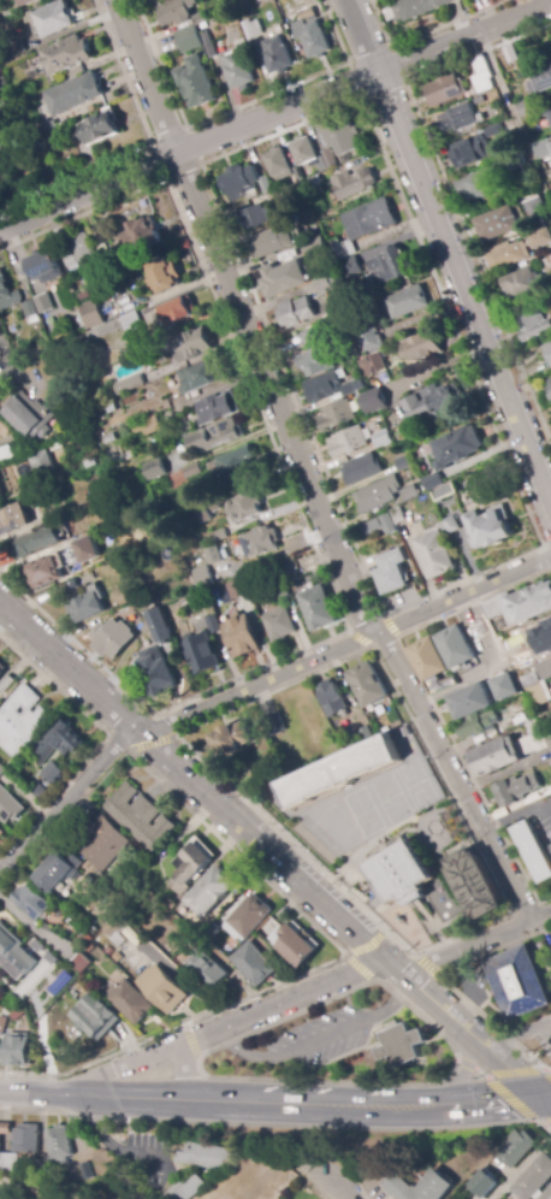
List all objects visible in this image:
building: (150, 0)
building: (155, 0)
building: (263, 0)
building: (20, 1)
building: (416, 7)
building: (174, 12)
building: (52, 19)
building: (253, 29)
building: (310, 33)
building: (190, 34)
road: (361, 36)
road: (463, 39)
building: (211, 45)
building: (17, 48)
building: (65, 54)
building: (510, 54)
building: (275, 55)
building: (237, 67)
building: (481, 75)
building: (540, 81)
building: (195, 83)
building: (444, 90)
building: (71, 91)
road: (361, 100)
building: (479, 102)
building: (526, 107)
building: (550, 116)
building: (458, 119)
road: (515, 122)
building: (48, 126)
building: (99, 128)
building: (493, 131)
building: (342, 138)
building: (37, 141)
road: (143, 143)
road: (186, 147)
building: (541, 149)
building: (303, 152)
building: (467, 153)
building: (328, 159)
building: (514, 161)
building: (277, 163)
building: (320, 165)
building: (296, 175)
building: (242, 183)
building: (352, 184)
building: (480, 184)
road: (13, 188)
building: (302, 190)
road: (448, 190)
building: (533, 208)
building: (306, 213)
building: (251, 218)
building: (497, 224)
building: (363, 225)
building: (138, 235)
building: (539, 238)
building: (269, 242)
building: (319, 246)
building: (78, 250)
building: (505, 258)
building: (546, 264)
building: (349, 266)
building: (387, 266)
building: (45, 267)
building: (284, 278)
building: (168, 280)
building: (325, 285)
building: (520, 285)
road: (463, 287)
building: (7, 295)
building: (407, 302)
building: (43, 303)
building: (29, 309)
building: (177, 312)
building: (97, 313)
building: (295, 313)
building: (324, 317)
building: (131, 321)
building: (534, 326)
building: (369, 339)
building: (189, 345)
building: (422, 347)
building: (60, 348)
building: (549, 349)
building: (147, 354)
building: (316, 354)
road: (6, 360)
building: (373, 365)
building: (199, 376)
building: (550, 382)
building: (128, 385)
building: (324, 386)
building: (350, 386)
building: (549, 390)
building: (0, 396)
building: (374, 402)
building: (434, 402)
building: (108, 406)
building: (217, 407)
building: (26, 417)
building: (336, 417)
building: (146, 426)
building: (214, 436)
building: (384, 437)
building: (108, 439)
building: (348, 442)
building: (454, 453)
building: (6, 454)
building: (403, 462)
building: (38, 463)
building: (232, 467)
building: (153, 469)
road: (303, 469)
building: (362, 469)
building: (184, 476)
building: (442, 491)
building: (409, 492)
building: (378, 494)
building: (243, 507)
building: (206, 513)
building: (397, 515)
building: (13, 519)
road: (302, 519)
building: (387, 524)
building: (372, 526)
building: (490, 527)
building: (71, 531)
building: (217, 536)
building: (257, 541)
building: (38, 545)
road: (547, 545)
building: (437, 549)
building: (211, 553)
building: (61, 562)
building: (292, 572)
building: (392, 572)
building: (201, 574)
building: (237, 589)
building: (279, 590)
building: (521, 604)
building: (316, 606)
building: (87, 608)
building: (212, 622)
building: (158, 624)
building: (278, 624)
road: (390, 627)
building: (476, 628)
building: (239, 634)
building: (109, 637)
road: (360, 640)
building: (535, 640)
building: (456, 648)
building: (202, 651)
building: (428, 660)
building: (156, 669)
building: (545, 669)
building: (1, 672)
building: (470, 675)
building: (367, 683)
building: (7, 686)
road: (254, 686)
building: (504, 687)
building: (533, 690)
building: (351, 691)
building: (331, 696)
building: (470, 701)
road: (431, 702)
building: (519, 714)
building: (20, 720)
building: (274, 725)
building: (478, 725)
road: (101, 739)
building: (231, 739)
building: (547, 739)
building: (531, 740)
road: (150, 742)
building: (58, 743)
building: (493, 757)
building: (1, 770)
building: (340, 772)
building: (53, 773)
building: (550, 780)
building: (514, 790)
building: (37, 792)
building: (8, 807)
building: (140, 817)
building: (1, 833)
building: (102, 841)
building: (532, 849)
road: (271, 855)
building: (130, 861)
building: (190, 868)
building: (59, 870)
building: (402, 874)
building: (475, 885)
building: (132, 887)
building: (211, 892)
building: (31, 903)
road: (363, 909)
road: (301, 915)
building: (250, 916)
road: (36, 929)
building: (115, 931)
building: (85, 937)
building: (132, 937)
road: (473, 944)
building: (295, 945)
building: (14, 950)
building: (108, 951)
road: (348, 952)
building: (81, 963)
building: (254, 964)
road: (427, 965)
building: (0, 967)
building: (207, 970)
building: (516, 981)
building: (60, 984)
road: (449, 985)
building: (162, 988)
road: (285, 1000)
building: (132, 1003)
building: (96, 1017)
building: (2, 1026)
road: (316, 1040)
road: (189, 1041)
building: (401, 1045)
building: (18, 1051)
road: (123, 1065)
road: (520, 1071)
road: (185, 1074)
road: (286, 1081)
road: (503, 1092)
road: (34, 1094)
road: (131, 1098)
road: (547, 1098)
traffic signals: (545, 1099)
road: (547, 1101)
road: (371, 1105)
building: (4, 1130)
building: (28, 1139)
building: (60, 1142)
road: (115, 1146)
building: (516, 1146)
building: (206, 1156)
building: (46, 1160)
building: (10, 1162)
building: (534, 1177)
building: (485, 1182)
building: (422, 1187)
building: (188, 1189)
road: (340, 1192)
building: (547, 1194)
road: (0, 1198)
building: (66, 1198)

